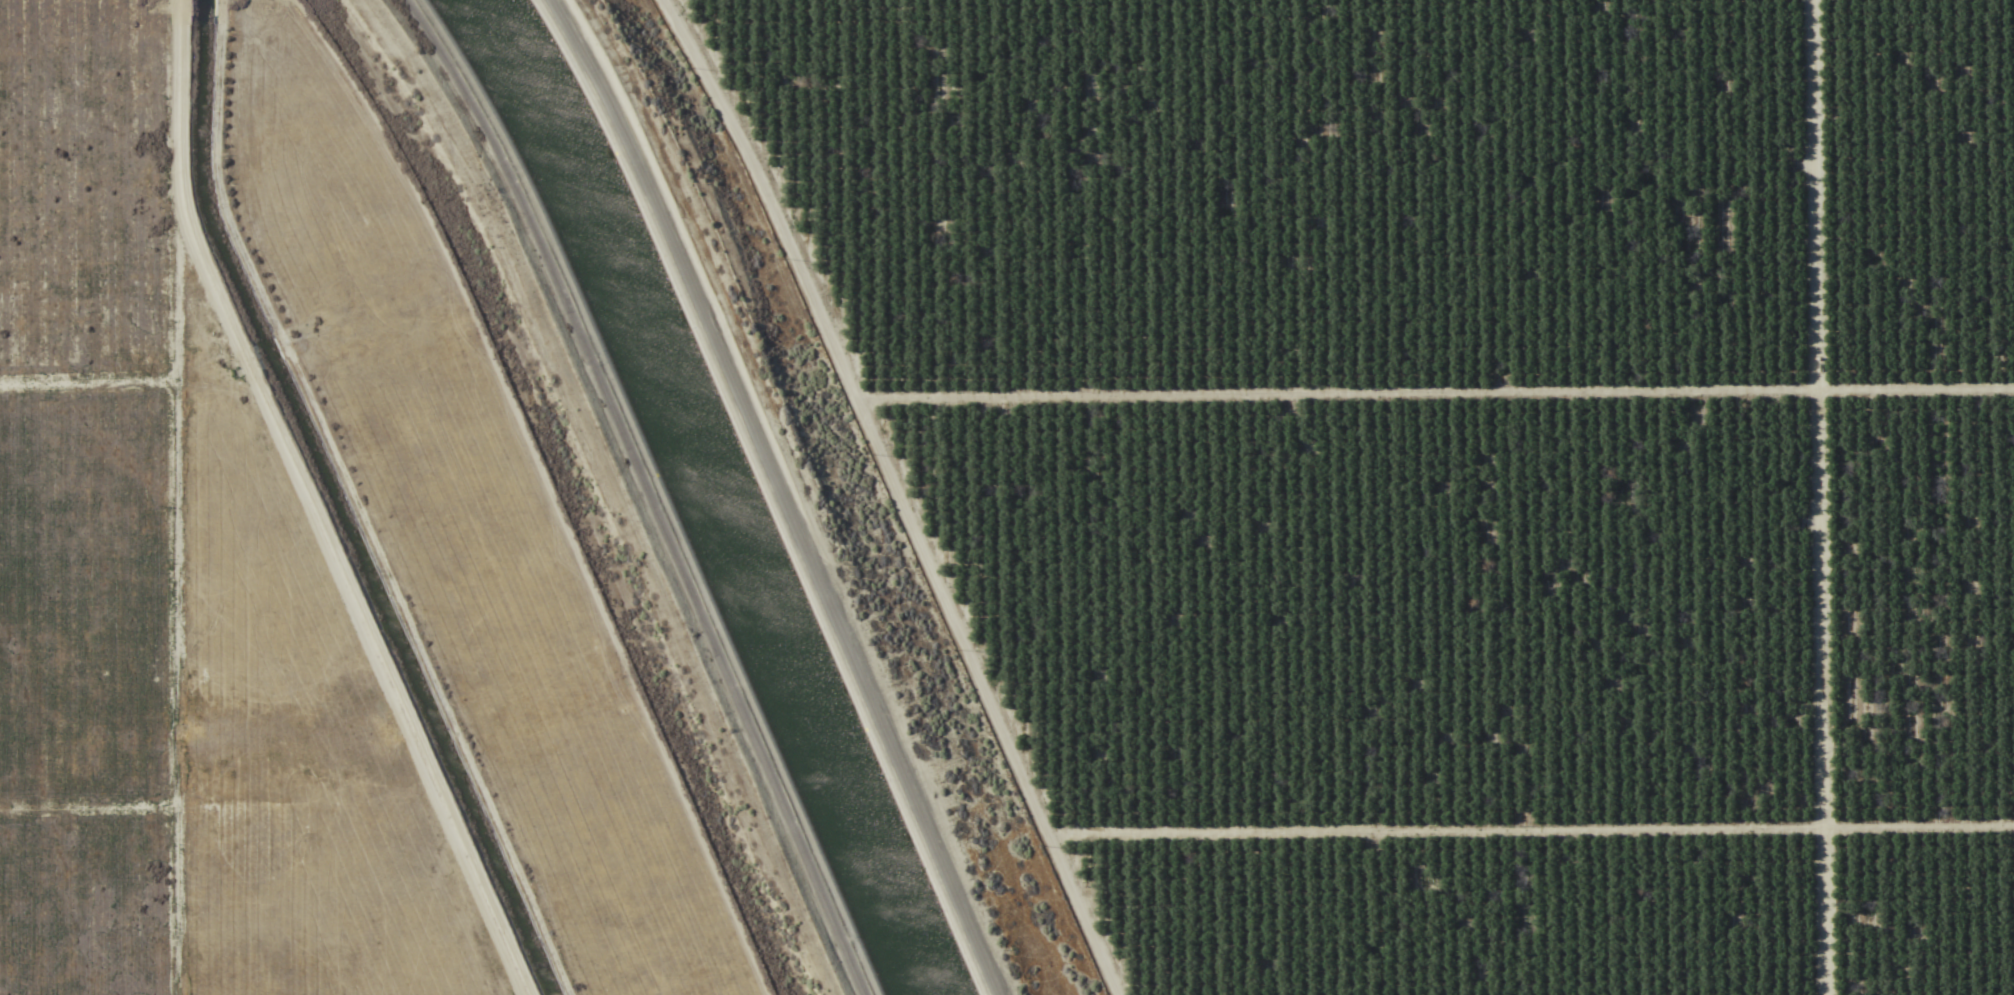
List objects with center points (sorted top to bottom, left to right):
road: (802, 487)
road: (648, 490)

